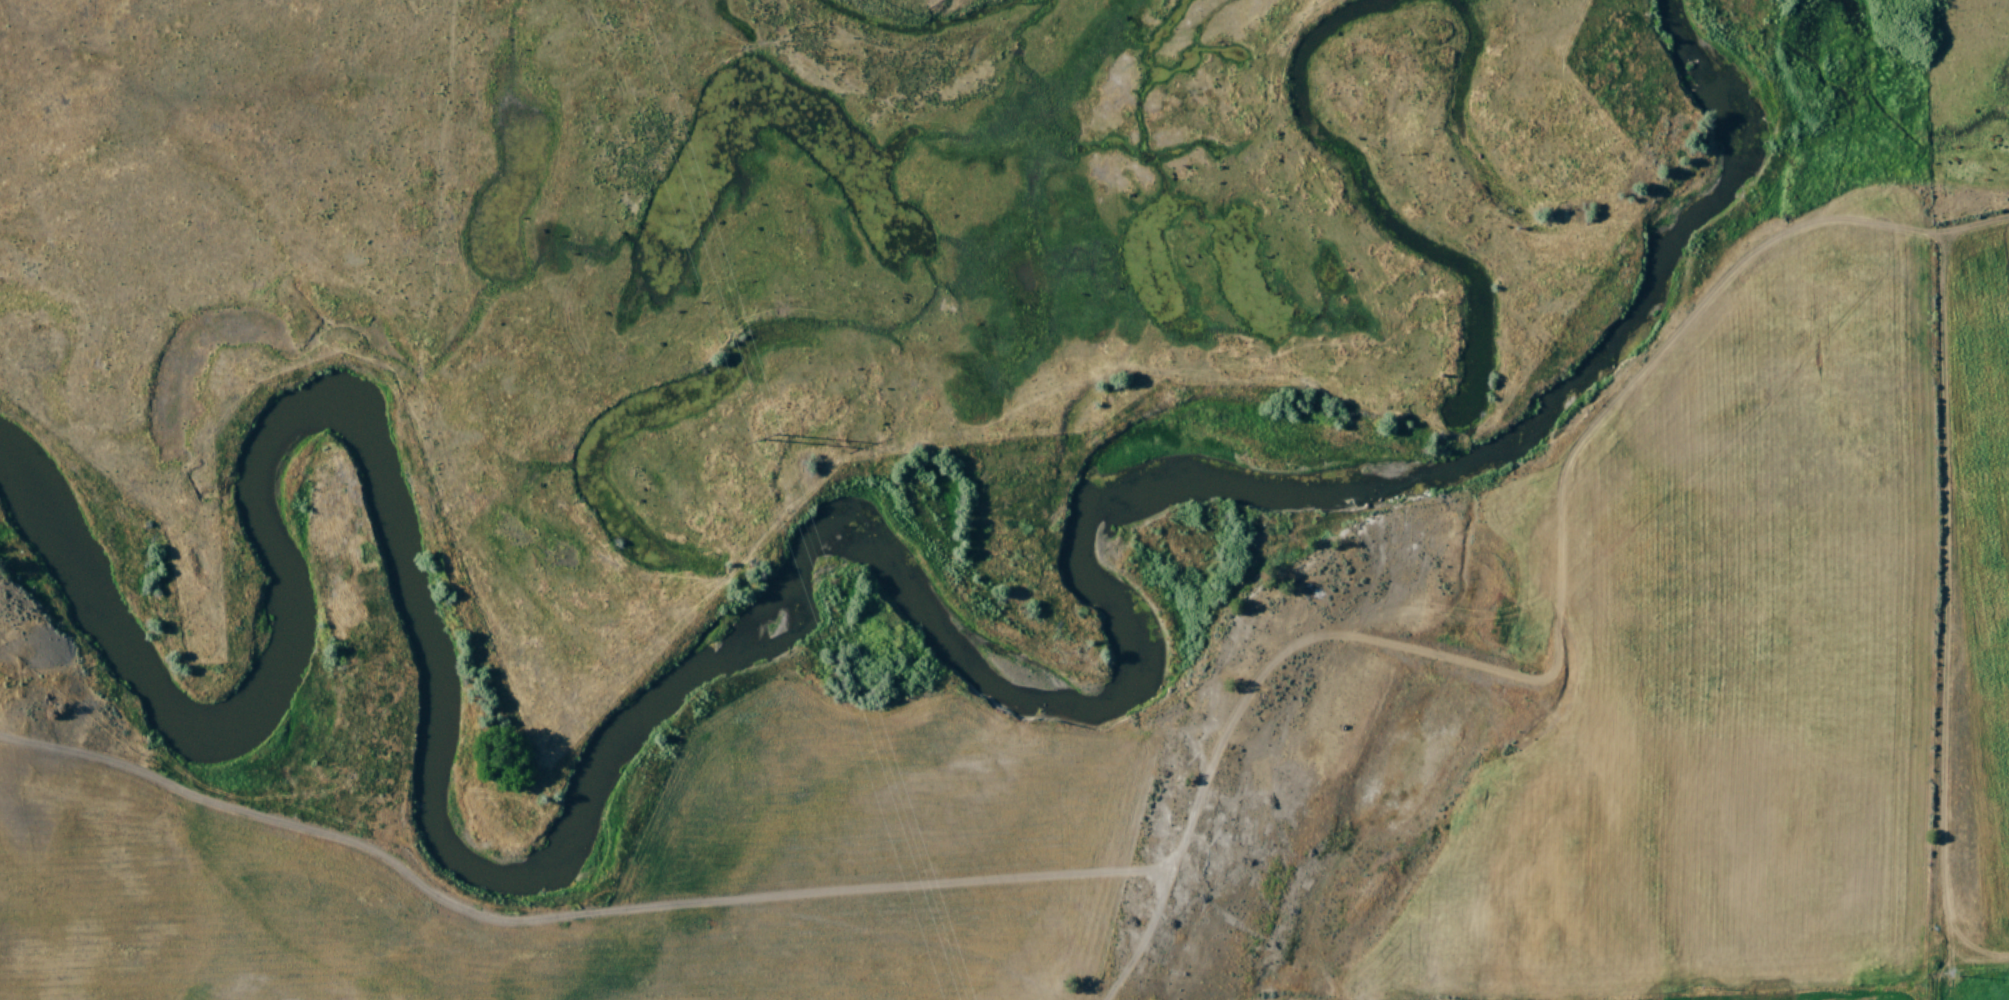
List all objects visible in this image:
power tower: (771, 437)
river: (733, 645)

